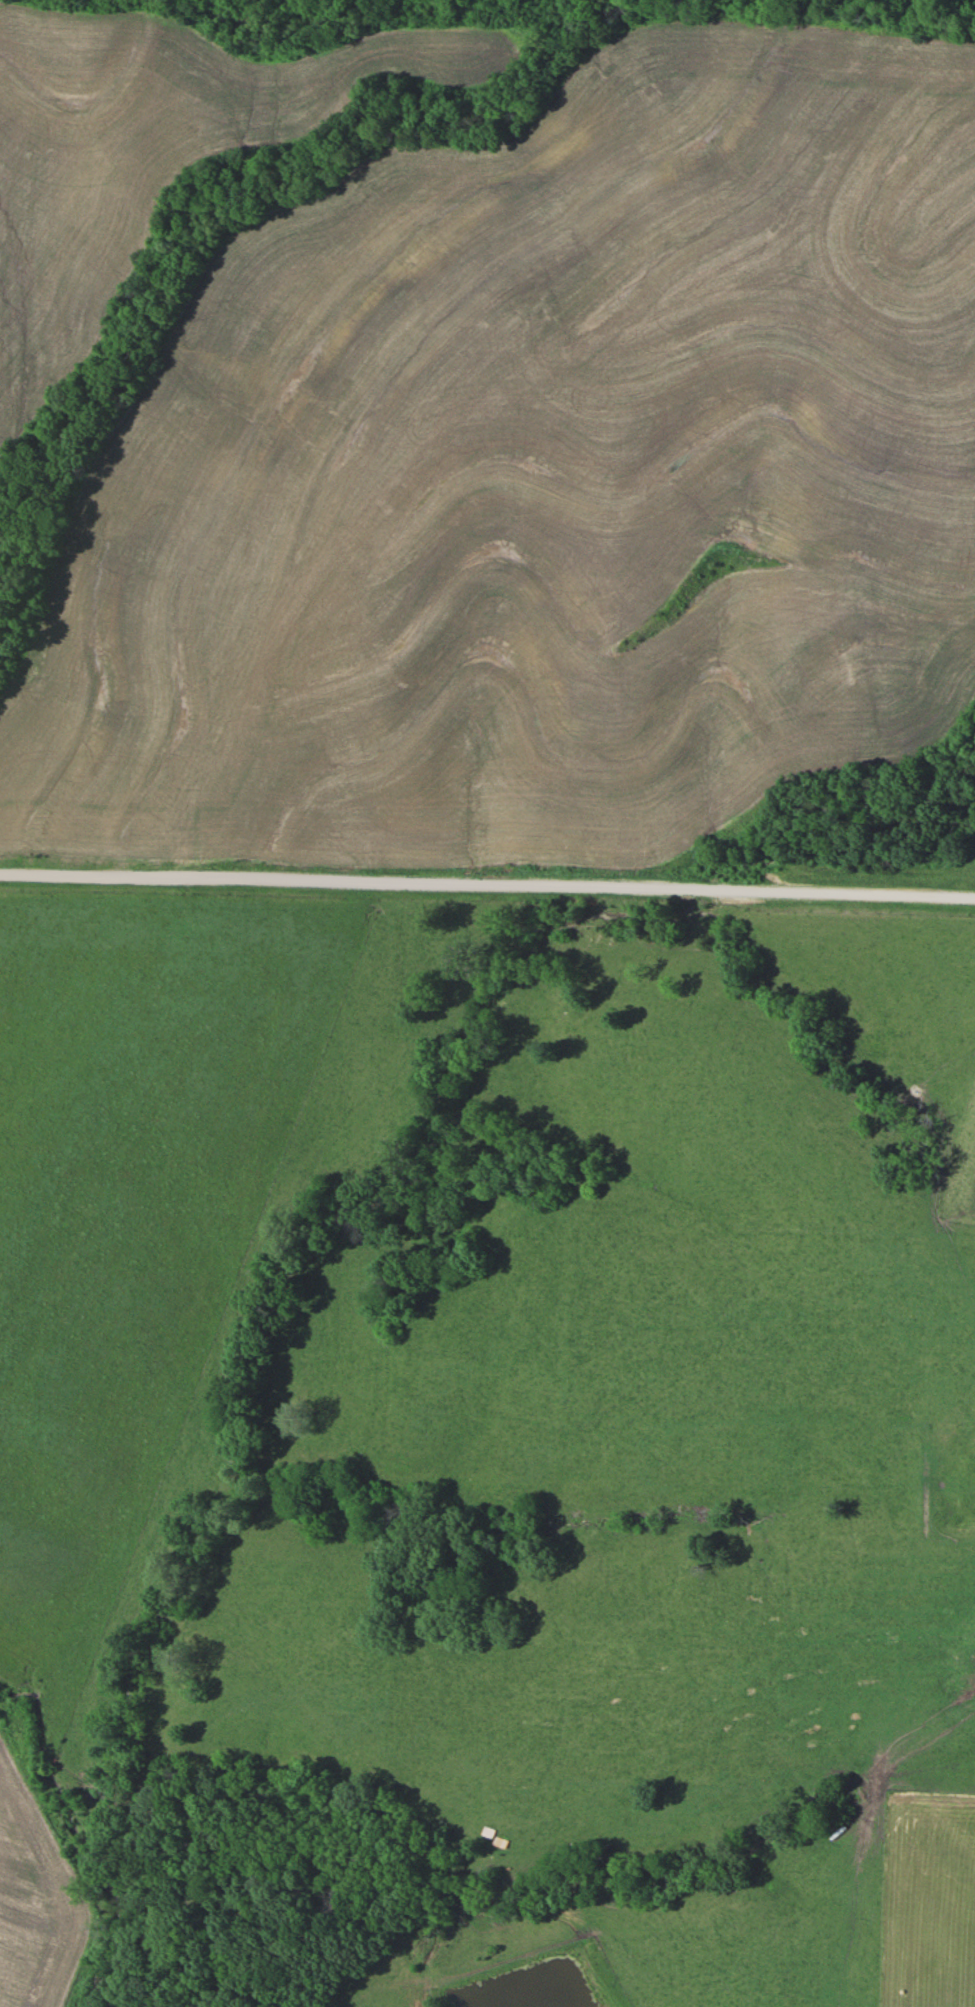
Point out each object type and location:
road: (487, 914)
crop: (35, 1905)

